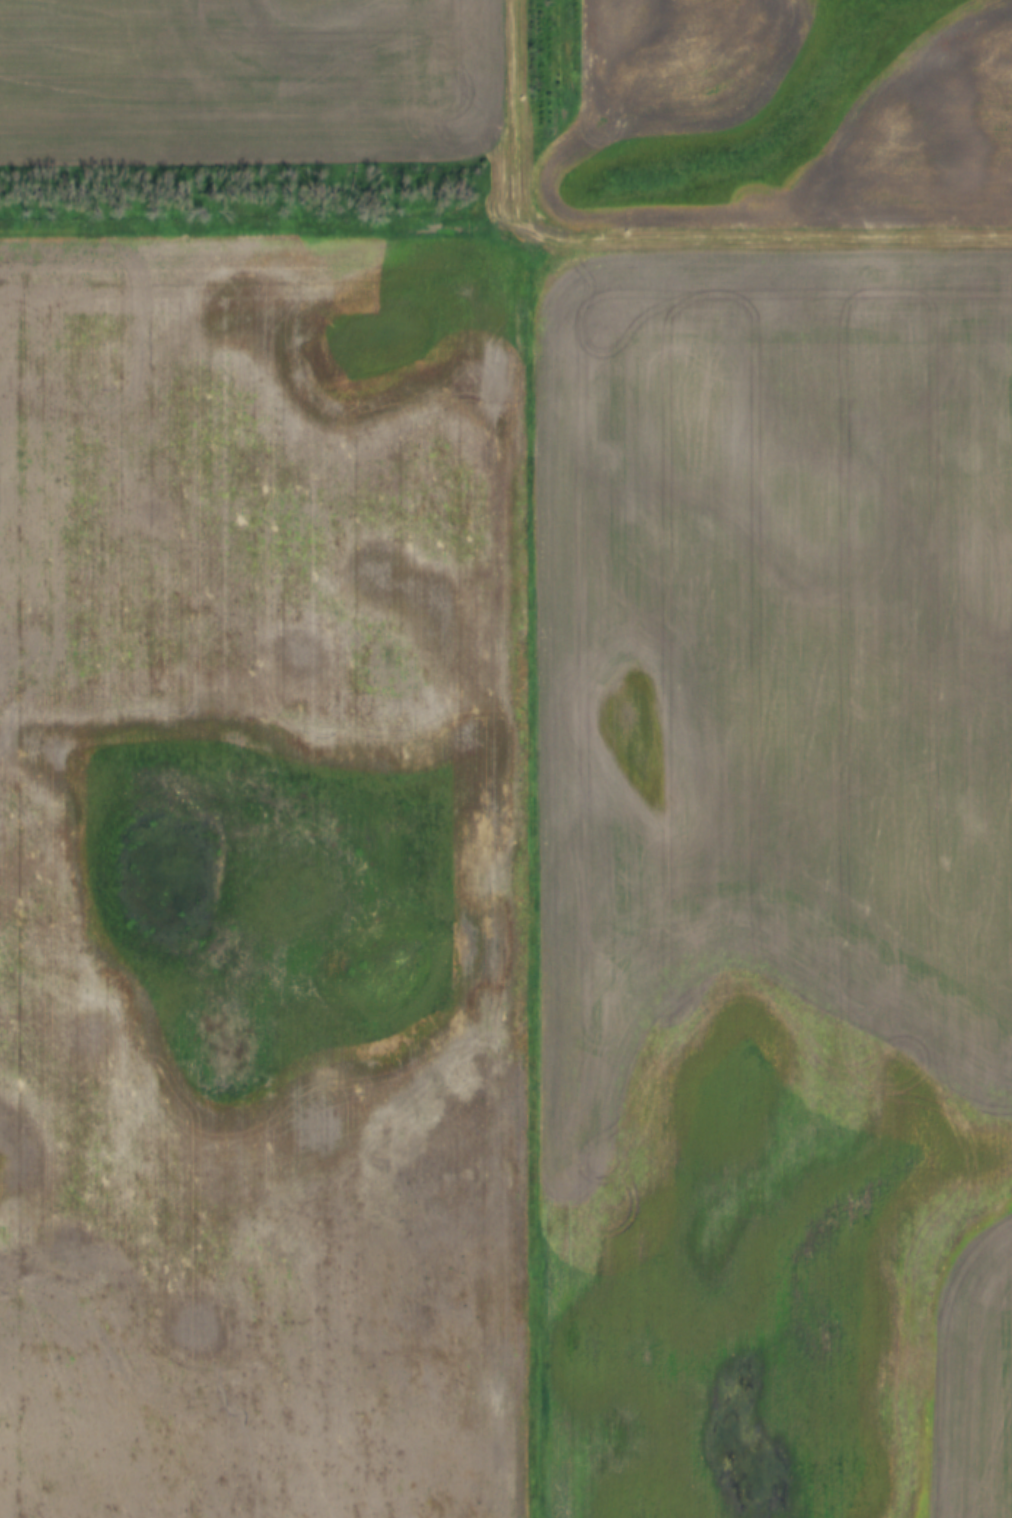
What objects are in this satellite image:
road: (524, 758)

